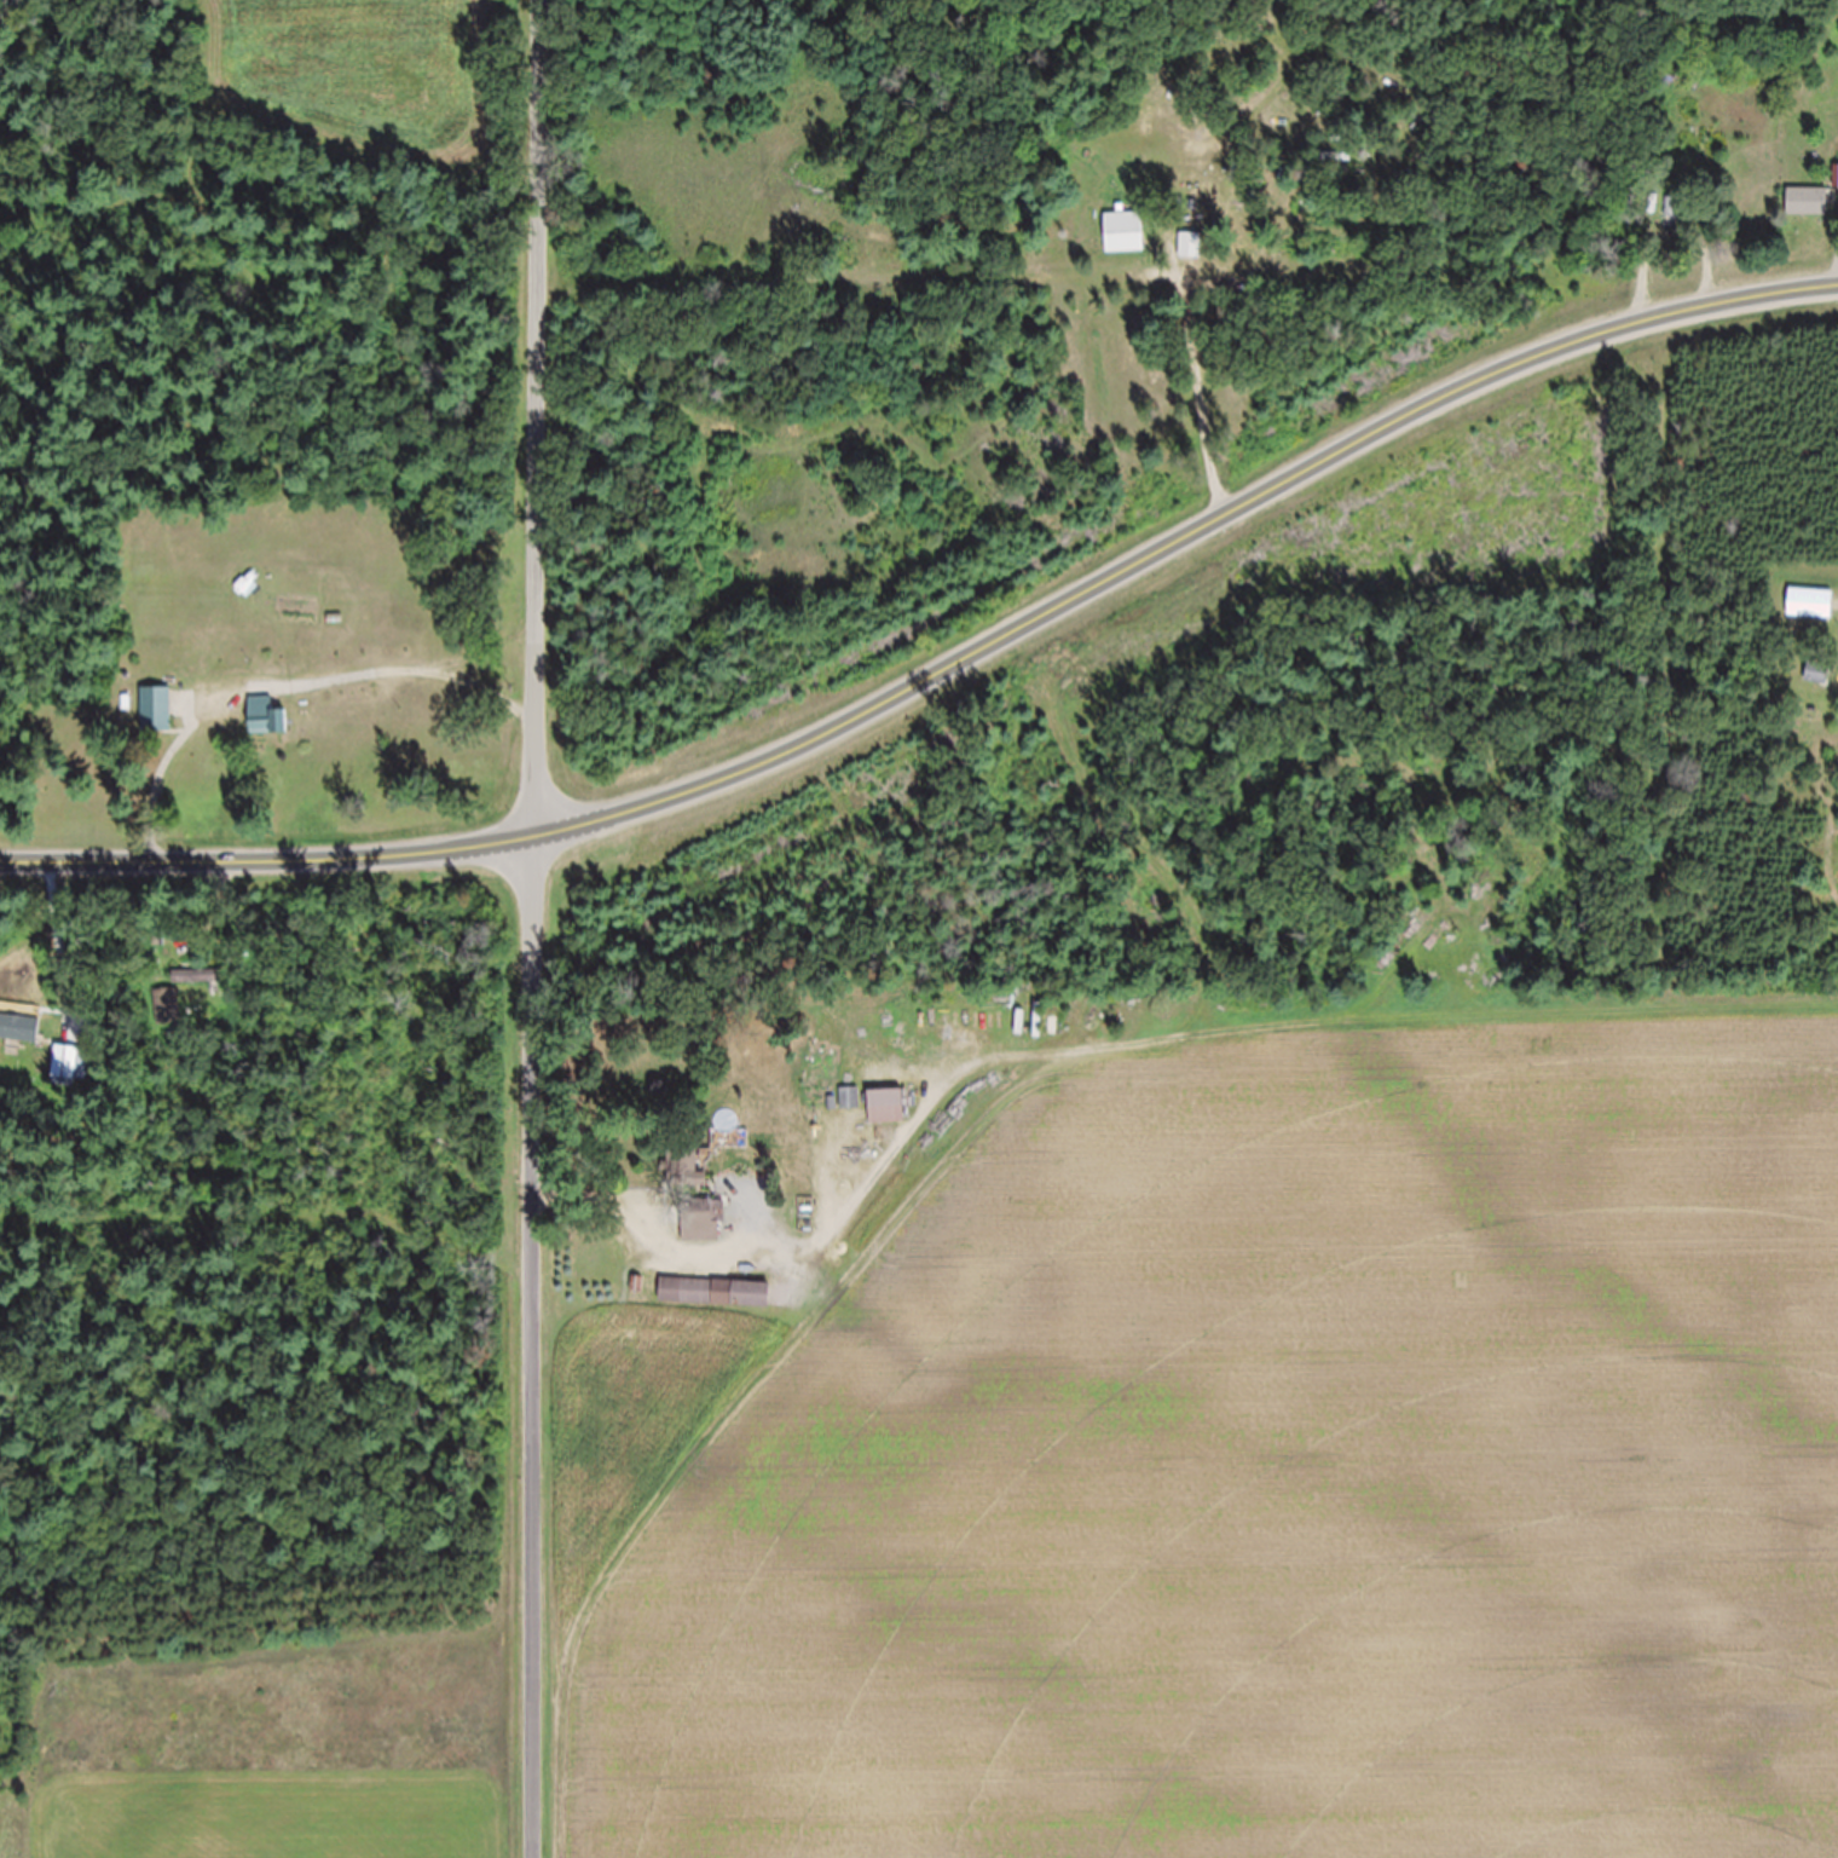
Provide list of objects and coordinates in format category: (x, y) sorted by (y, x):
building: (1808, 214)
building: (1682, 223)
building: (1126, 241)
building: (1192, 258)
road: (324, 502)
road: (277, 671)
road: (948, 680)
building: (1817, 685)
building: (156, 722)
building: (265, 731)
road: (536, 928)
building: (196, 989)
building: (169, 1019)
building: (1039, 1033)
building: (19, 1041)
building: (1163, 1043)
building: (71, 1078)
building: (885, 1110)
building: (850, 1112)
building: (688, 1183)
building: (701, 1233)
road: (796, 1246)
building: (715, 1306)

